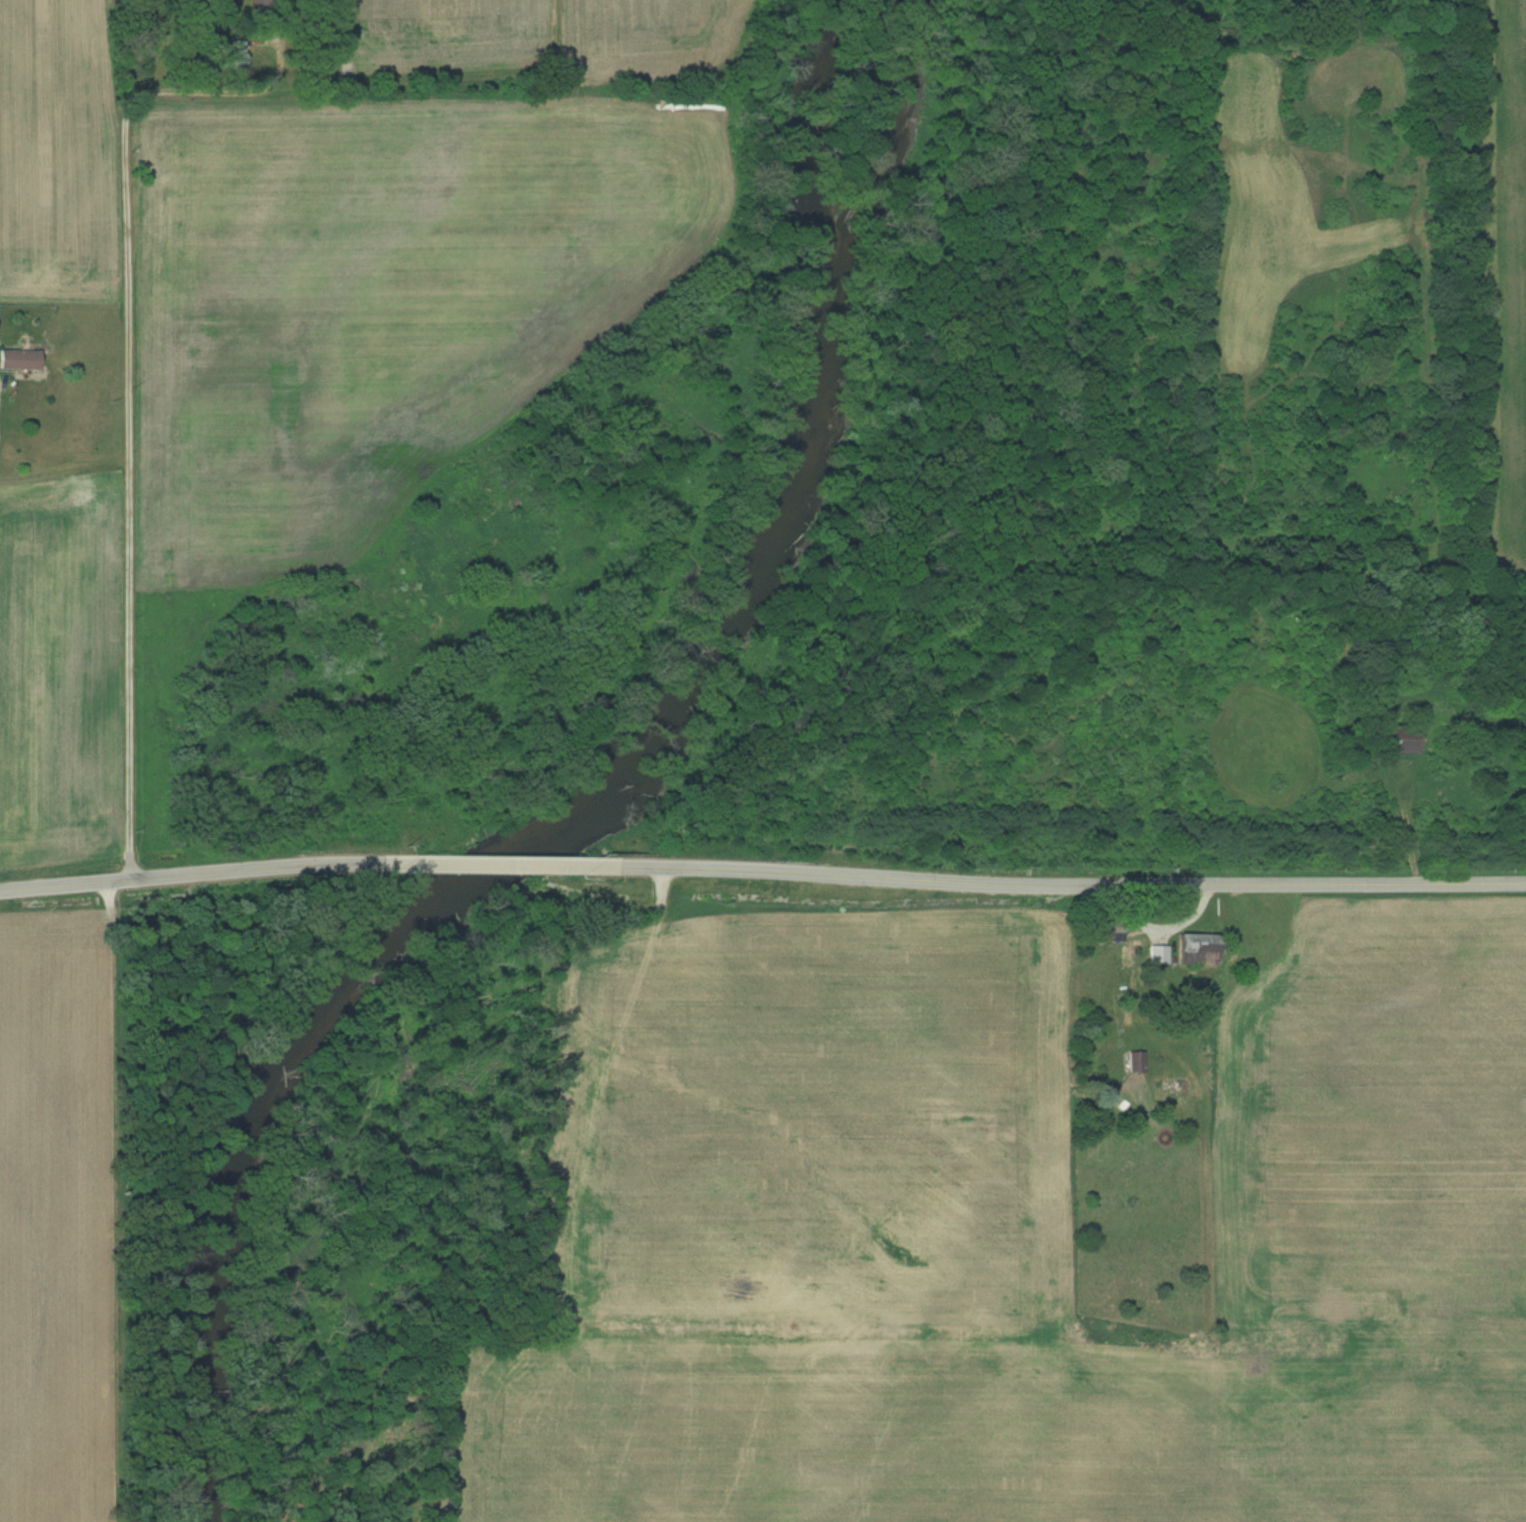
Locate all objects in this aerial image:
building: (267, 4)
building: (235, 55)
building: (18, 360)
road: (122, 417)
building: (1397, 740)
river: (594, 809)
road: (749, 891)
building: (1227, 917)
building: (1110, 929)
building: (1198, 948)
building: (1158, 954)
building: (1137, 1061)

